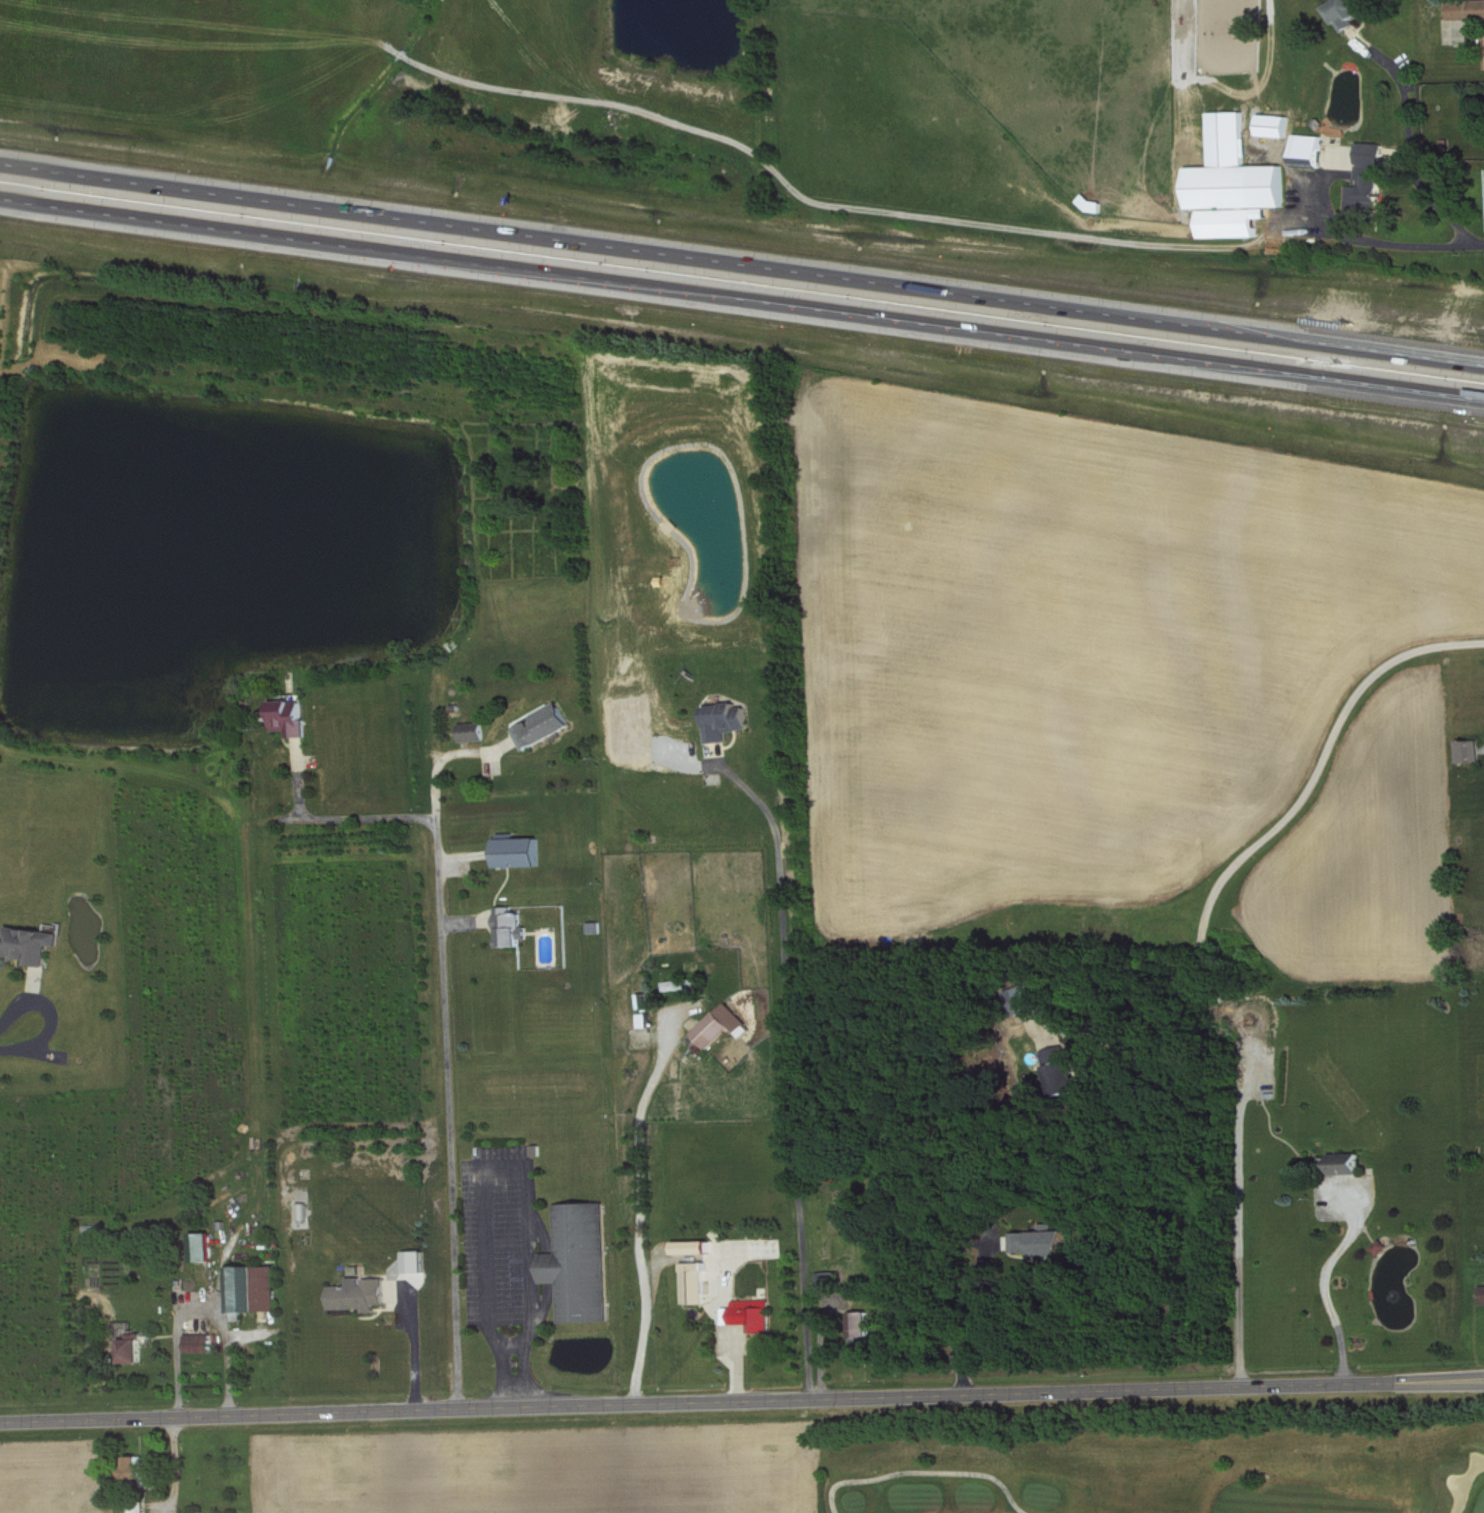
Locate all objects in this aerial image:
building: (1468, 11)
building: (1354, 13)
building: (1313, 152)
road: (1415, 152)
building: (1371, 181)
building: (1239, 184)
road: (1390, 244)
road: (742, 264)
road: (742, 297)
crop: (1077, 643)
building: (454, 706)
building: (288, 716)
building: (723, 719)
building: (543, 724)
building: (471, 730)
road: (286, 740)
road: (730, 743)
building: (1466, 748)
road: (1480, 748)
road: (297, 776)
road: (357, 815)
road: (1263, 837)
building: (517, 849)
crop: (1365, 852)
road: (468, 853)
road: (468, 920)
building: (509, 925)
building: (593, 925)
road: (490, 928)
building: (30, 943)
road: (25, 968)
road: (36, 982)
building: (682, 983)
building: (1028, 994)
building: (641, 1000)
road: (54, 1014)
building: (645, 1018)
building: (719, 1024)
road: (446, 1041)
road: (40, 1051)
road: (790, 1058)
building: (1058, 1069)
building: (534, 1148)
building: (1340, 1162)
road: (525, 1169)
road: (640, 1194)
road: (541, 1229)
parking lot: (500, 1235)
road: (1238, 1235)
building: (1039, 1240)
building: (201, 1245)
building: (1377, 1245)
building: (692, 1246)
building: (577, 1261)
building: (419, 1263)
road: (549, 1266)
building: (693, 1281)
building: (826, 1281)
road: (1323, 1284)
building: (251, 1288)
building: (1481, 1293)
building: (359, 1294)
fountain: (1394, 1301)
road: (960, 1304)
road: (543, 1308)
road: (380, 1309)
building: (748, 1313)
building: (860, 1328)
road: (159, 1334)
road: (226, 1340)
road: (414, 1340)
building: (199, 1341)
road: (178, 1343)
building: (132, 1346)
road: (820, 1350)
road: (738, 1363)
road: (742, 1400)
road: (176, 1464)
building: (135, 1467)
crop: (543, 1468)
crop: (56, 1474)
road: (926, 1475)
park: (1167, 1476)
building: (135, 1507)
building: (193, 1512)
building: (213, 1512)

